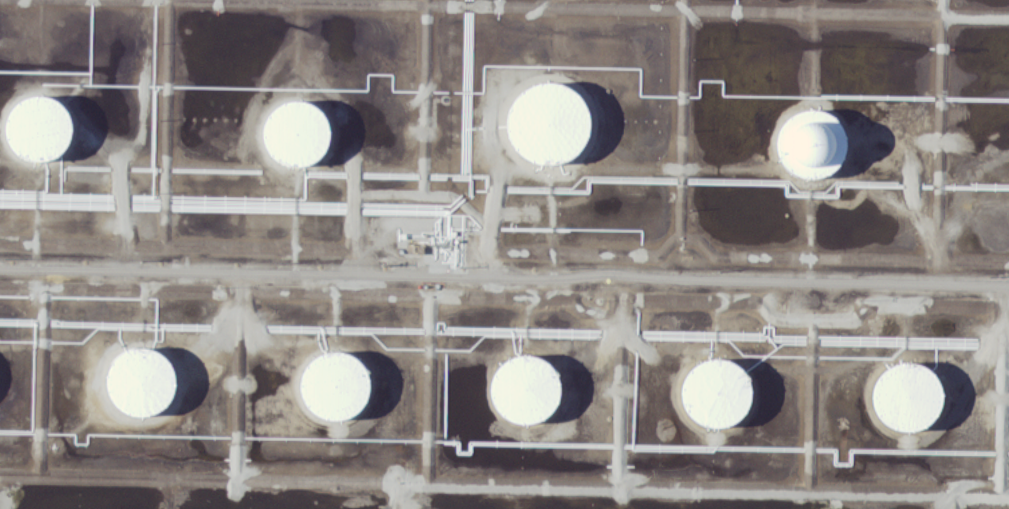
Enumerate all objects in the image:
building: (546, 122)
storage tank: (546, 122)
building: (37, 129)
storage tank: (37, 129)
building: (297, 131)
storage tank: (297, 131)
building: (809, 143)
storage tank: (809, 143)
road: (504, 277)
building: (140, 382)
storage tank: (140, 382)
building: (332, 386)
storage tank: (332, 386)
building: (527, 389)
storage tank: (527, 389)
building: (719, 391)
storage tank: (719, 391)
building: (908, 396)
storage tank: (908, 396)
road: (504, 485)

